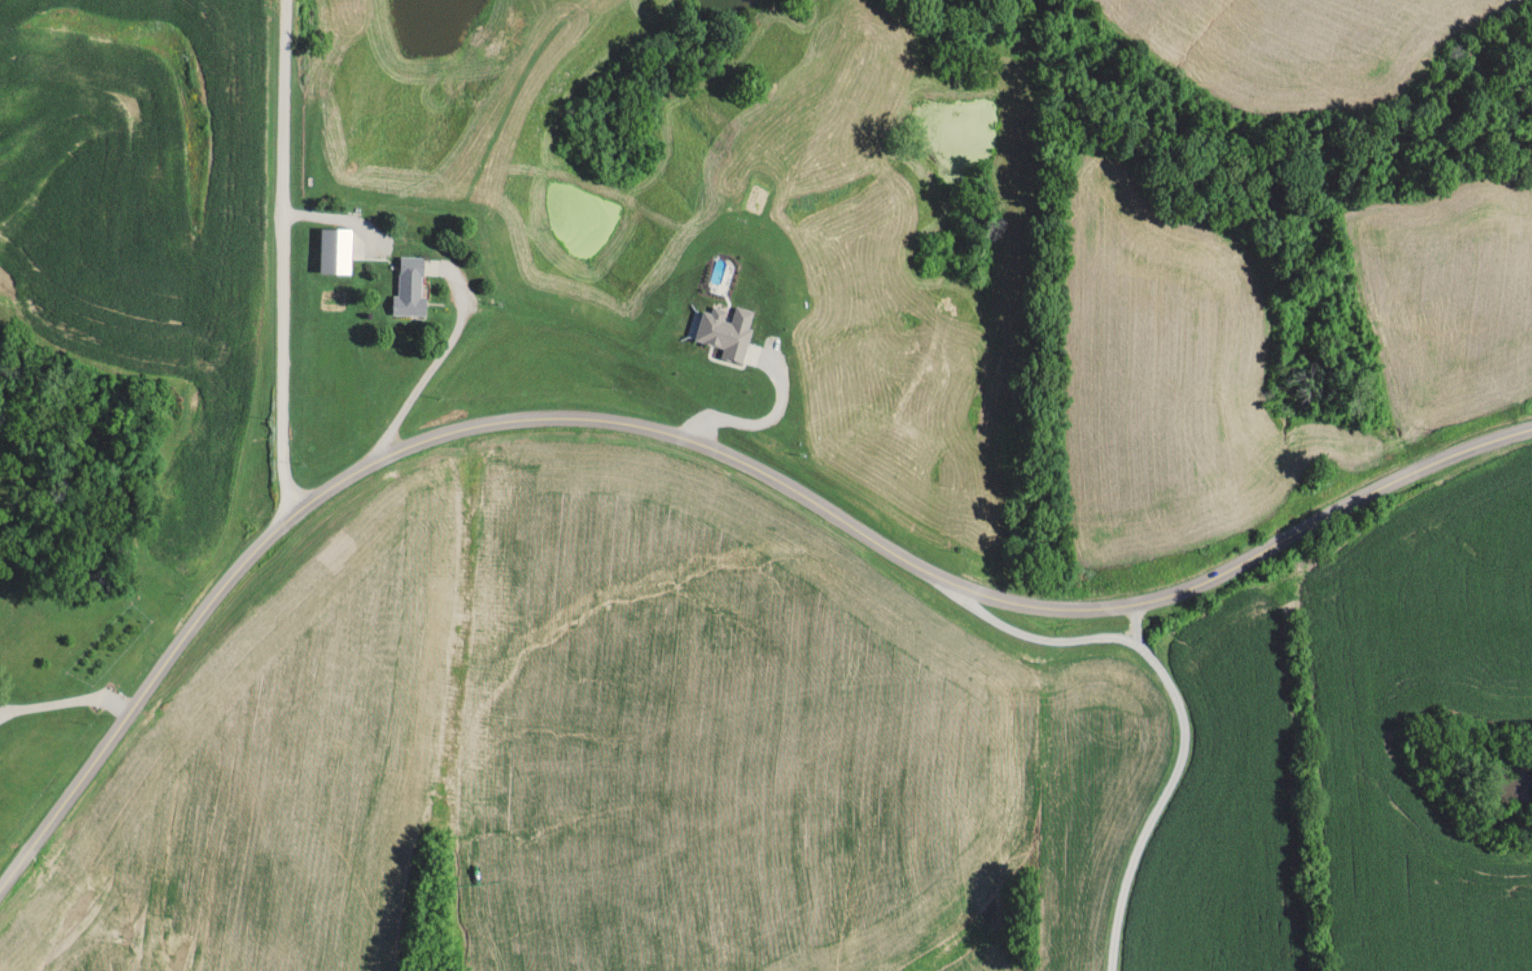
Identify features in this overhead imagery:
building: (745, 200)
building: (352, 236)
road: (283, 257)
building: (414, 289)
road: (433, 373)
road: (800, 494)
road: (1042, 639)
road: (66, 701)
road: (1176, 784)
road: (67, 800)

